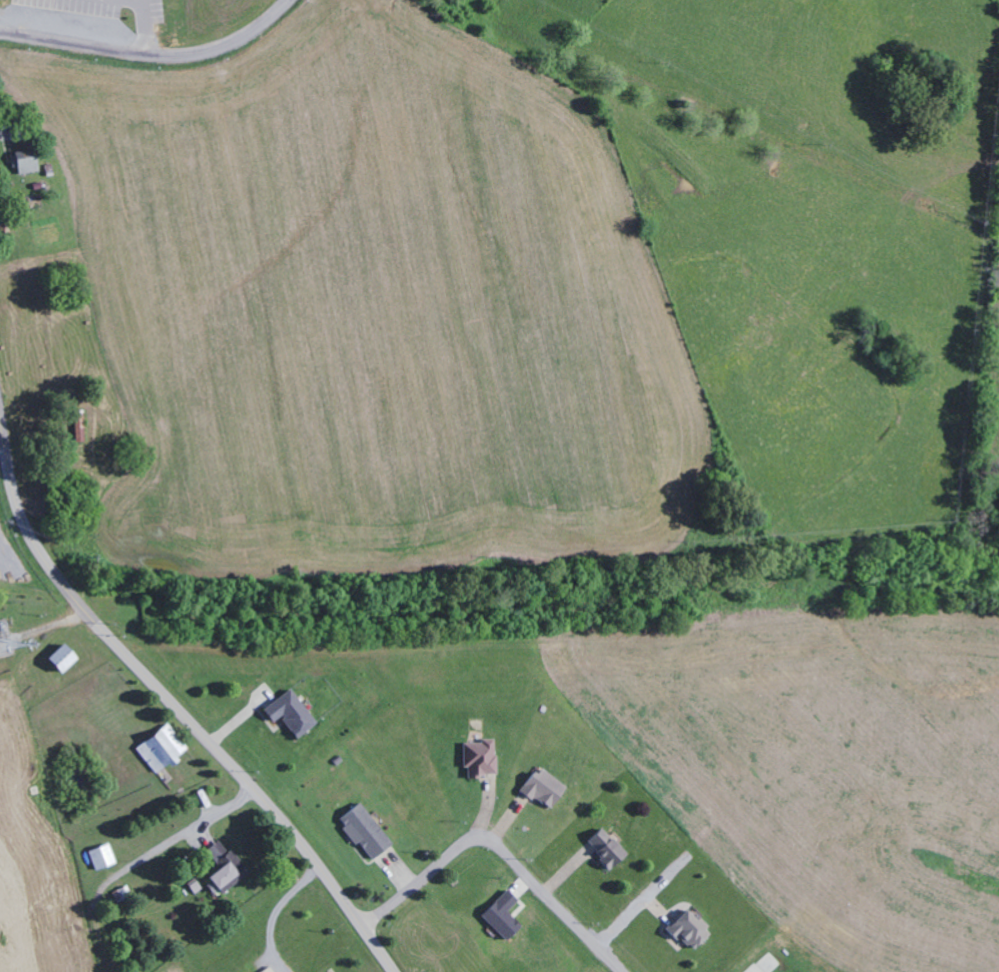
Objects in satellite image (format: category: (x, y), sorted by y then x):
road: (152, 54)
building: (27, 162)
building: (68, 659)
road: (172, 704)
building: (294, 713)
building: (164, 750)
building: (482, 758)
building: (545, 787)
building: (368, 831)
building: (609, 848)
road: (499, 851)
building: (105, 857)
building: (229, 867)
building: (506, 915)
building: (692, 929)
building: (270, 970)

